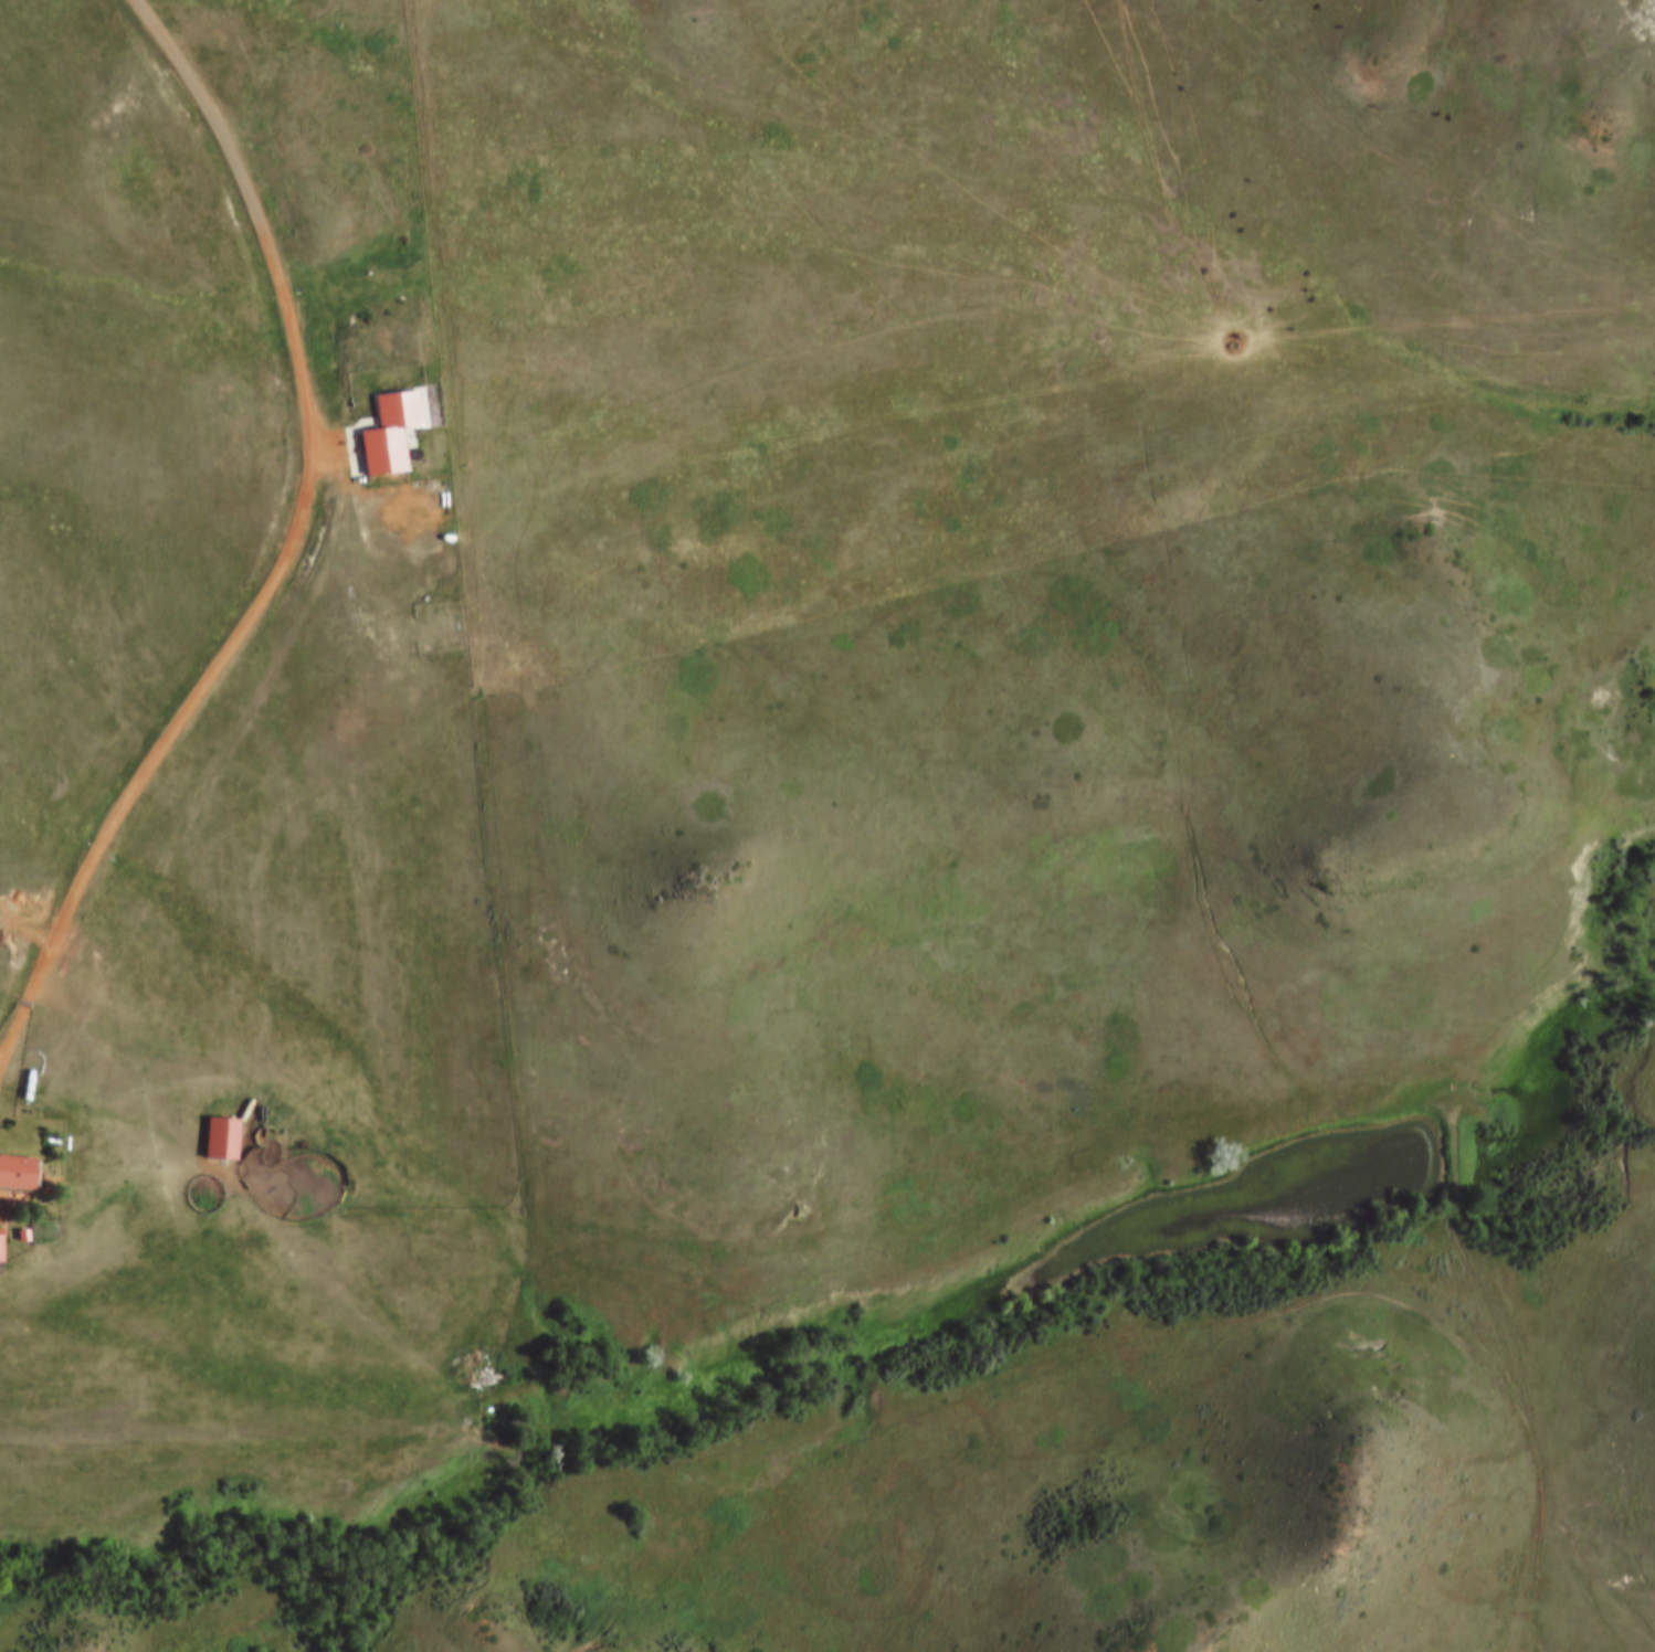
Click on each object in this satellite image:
road: (289, 550)
building: (225, 1137)
building: (20, 1173)

